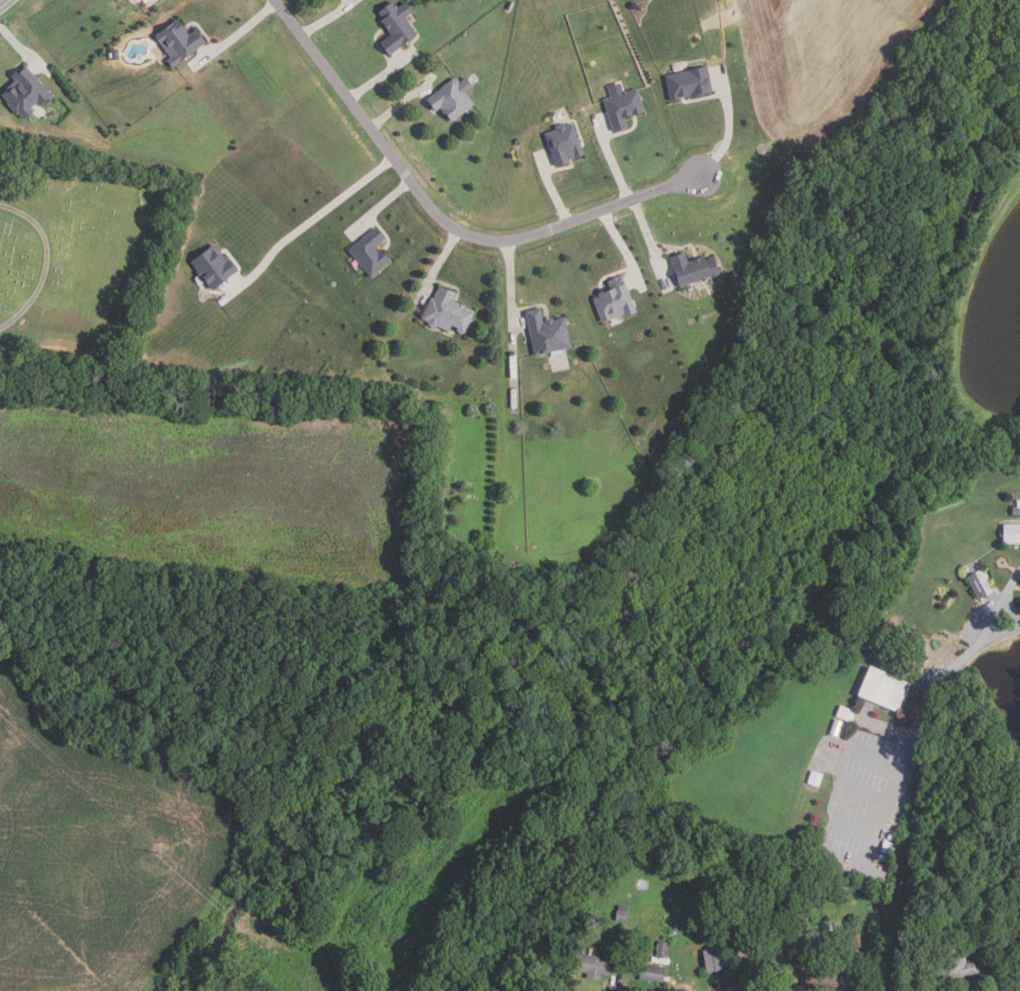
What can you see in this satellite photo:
road: (145, 0)
road: (5, 4)
road: (328, 17)
building: (397, 26)
road: (236, 36)
building: (178, 41)
road: (24, 49)
road: (382, 75)
building: (689, 83)
building: (25, 92)
building: (453, 98)
road: (402, 103)
building: (623, 108)
road: (729, 124)
building: (564, 143)
road: (612, 159)
road: (551, 188)
road: (379, 208)
road: (443, 219)
road: (309, 222)
road: (650, 245)
park: (69, 250)
road: (624, 250)
building: (370, 252)
road: (46, 262)
road: (438, 264)
building: (214, 266)
building: (693, 269)
road: (510, 286)
building: (615, 300)
building: (447, 312)
building: (547, 333)
building: (1016, 511)
building: (1012, 533)
building: (977, 586)
road: (968, 639)
building: (886, 687)
building: (846, 712)
building: (836, 726)
building: (816, 777)
building: (889, 847)
power tower: (158, 849)
building: (849, 886)
building: (714, 908)
building: (621, 915)
building: (857, 940)
building: (662, 947)
road: (792, 952)
building: (721, 959)
building: (594, 963)
building: (957, 966)
road: (992, 966)
building: (652, 972)
building: (831, 975)
road: (865, 978)
road: (609, 986)
road: (720, 989)
road: (676, 990)

